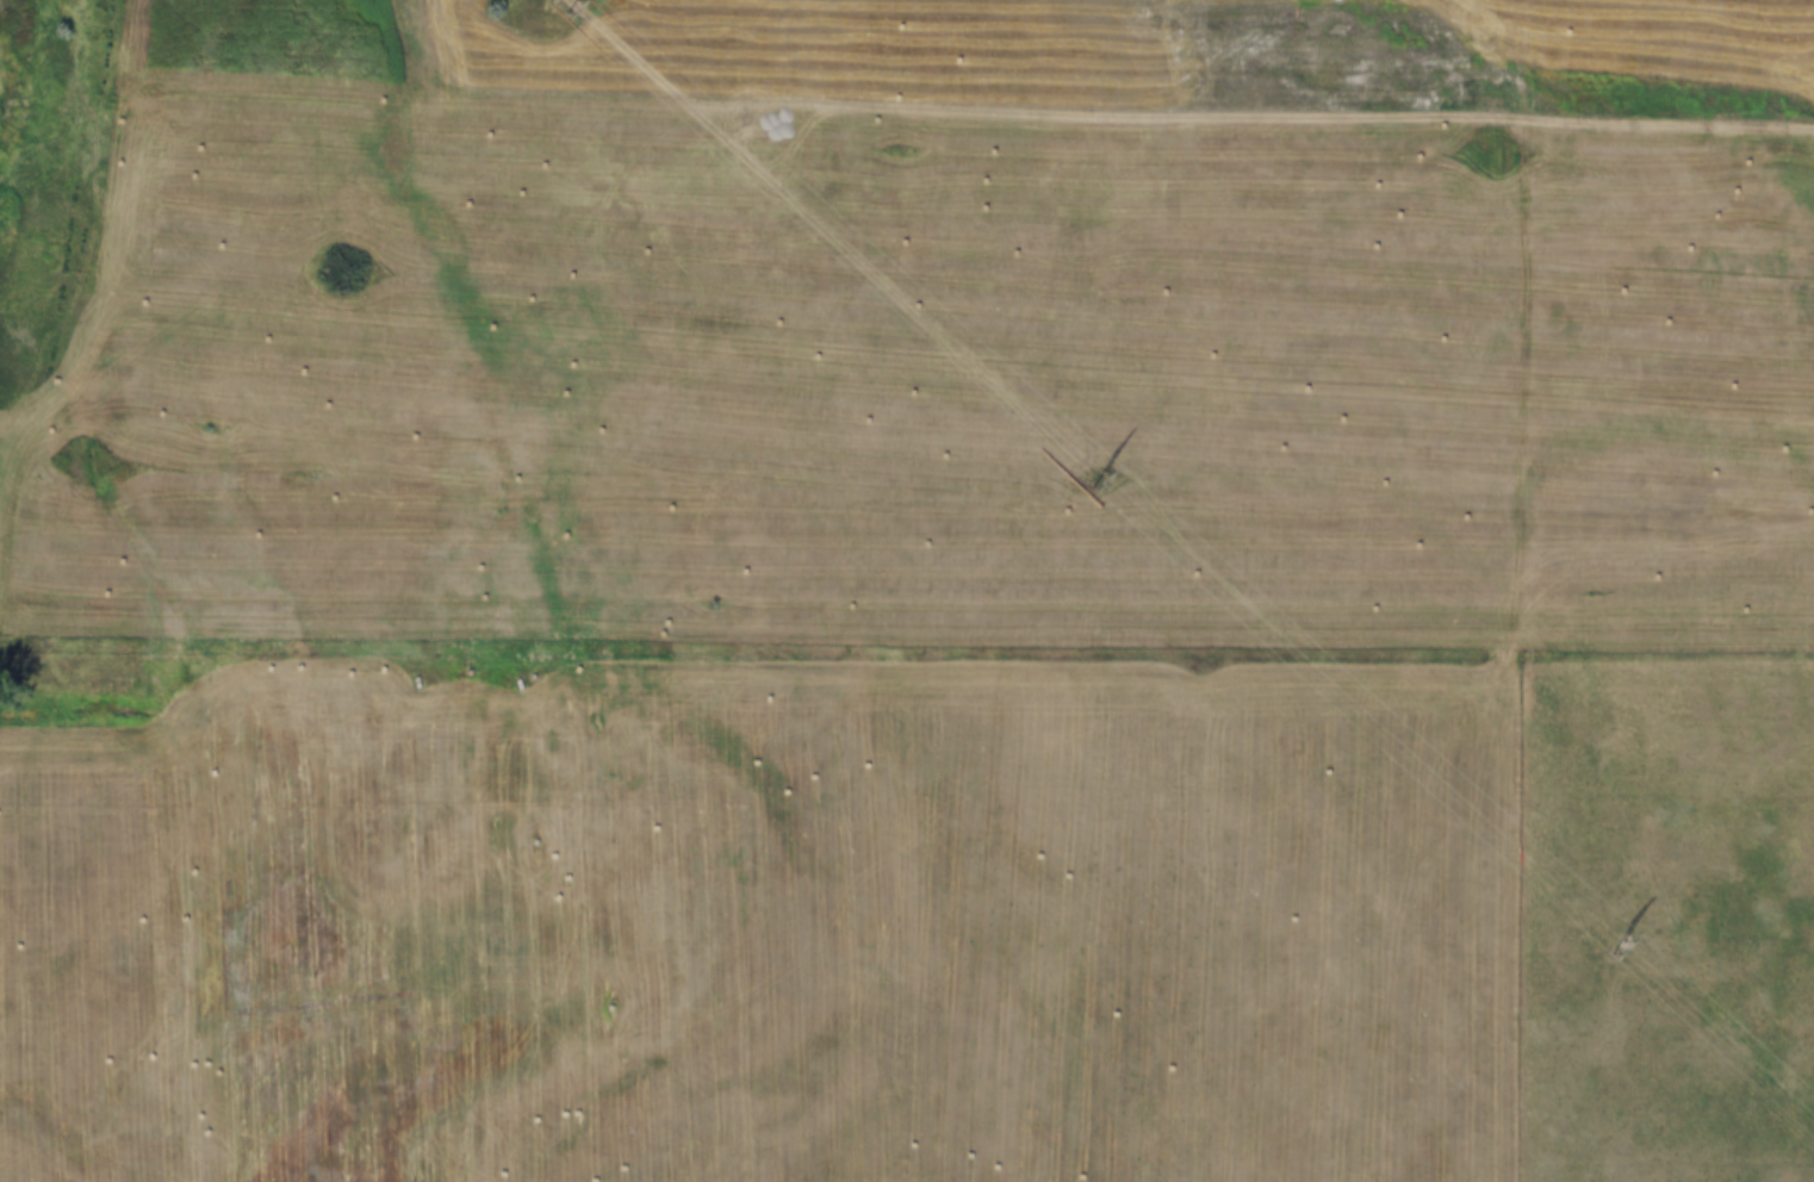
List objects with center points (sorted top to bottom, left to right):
power tower: (569, 6)
power tower: (1095, 478)
power tower: (1619, 950)

